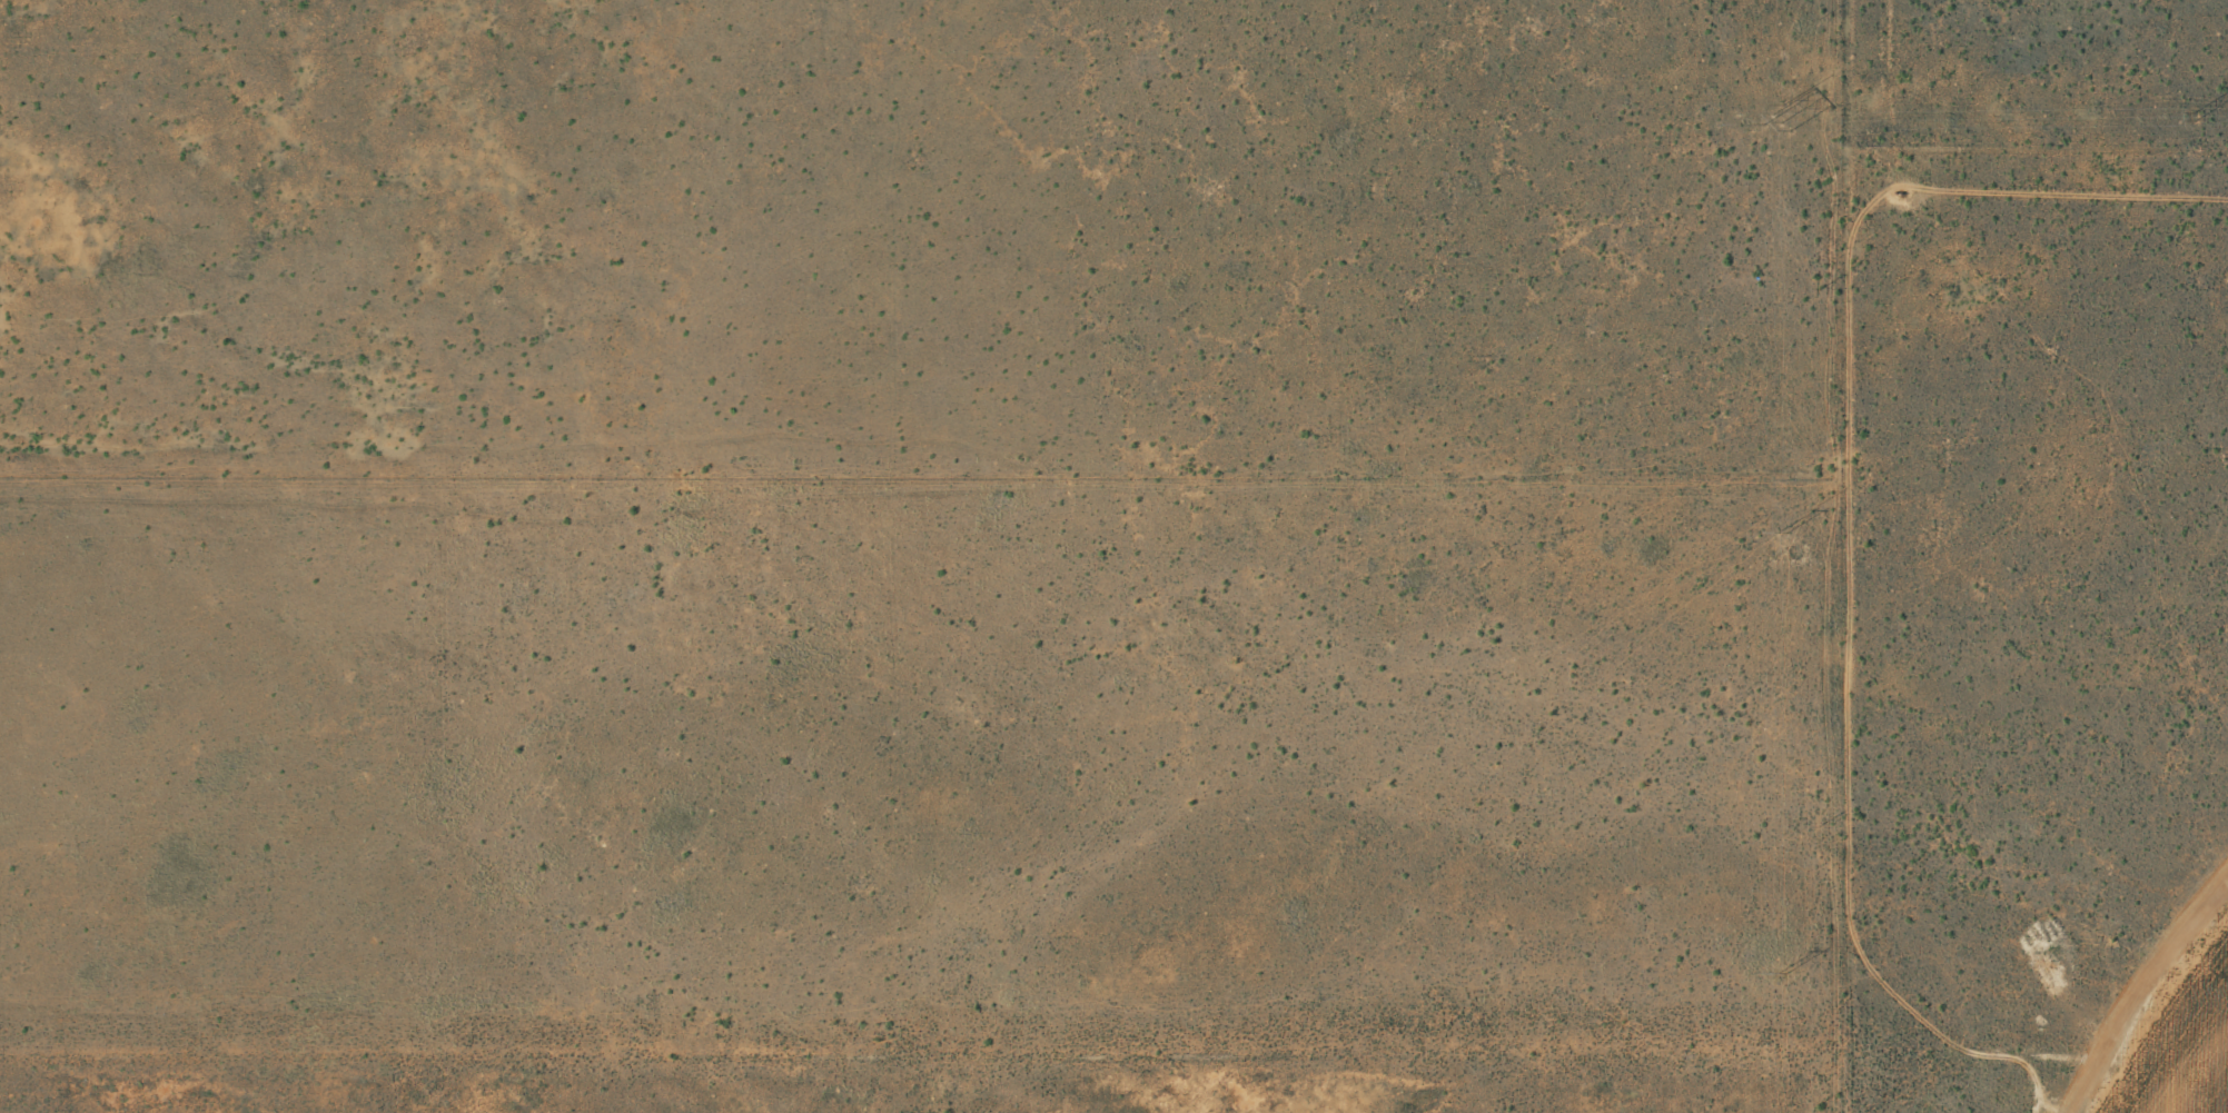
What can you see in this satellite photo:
power tower: (2194, 118)
power tower: (1776, 119)
power tower: (1779, 534)
road: (1826, 556)
power tower: (1783, 973)
road: (2029, 1054)

